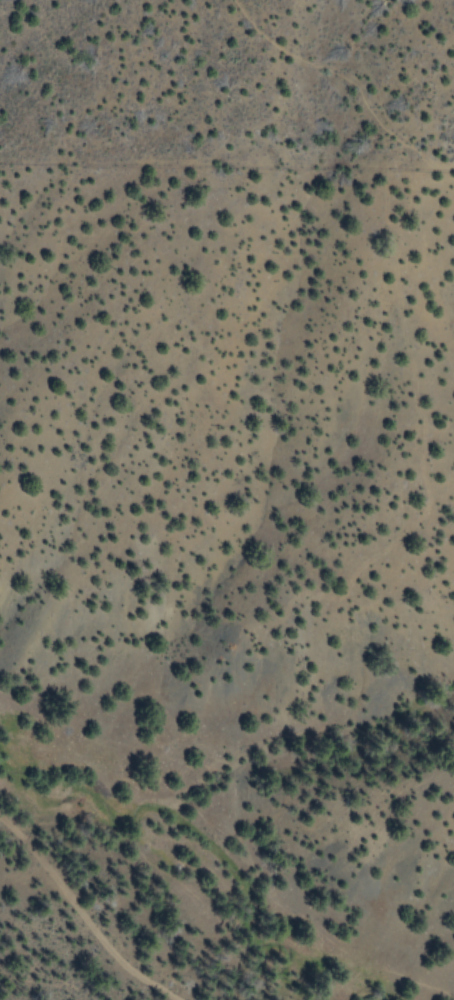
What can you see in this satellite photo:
road: (101, 903)

